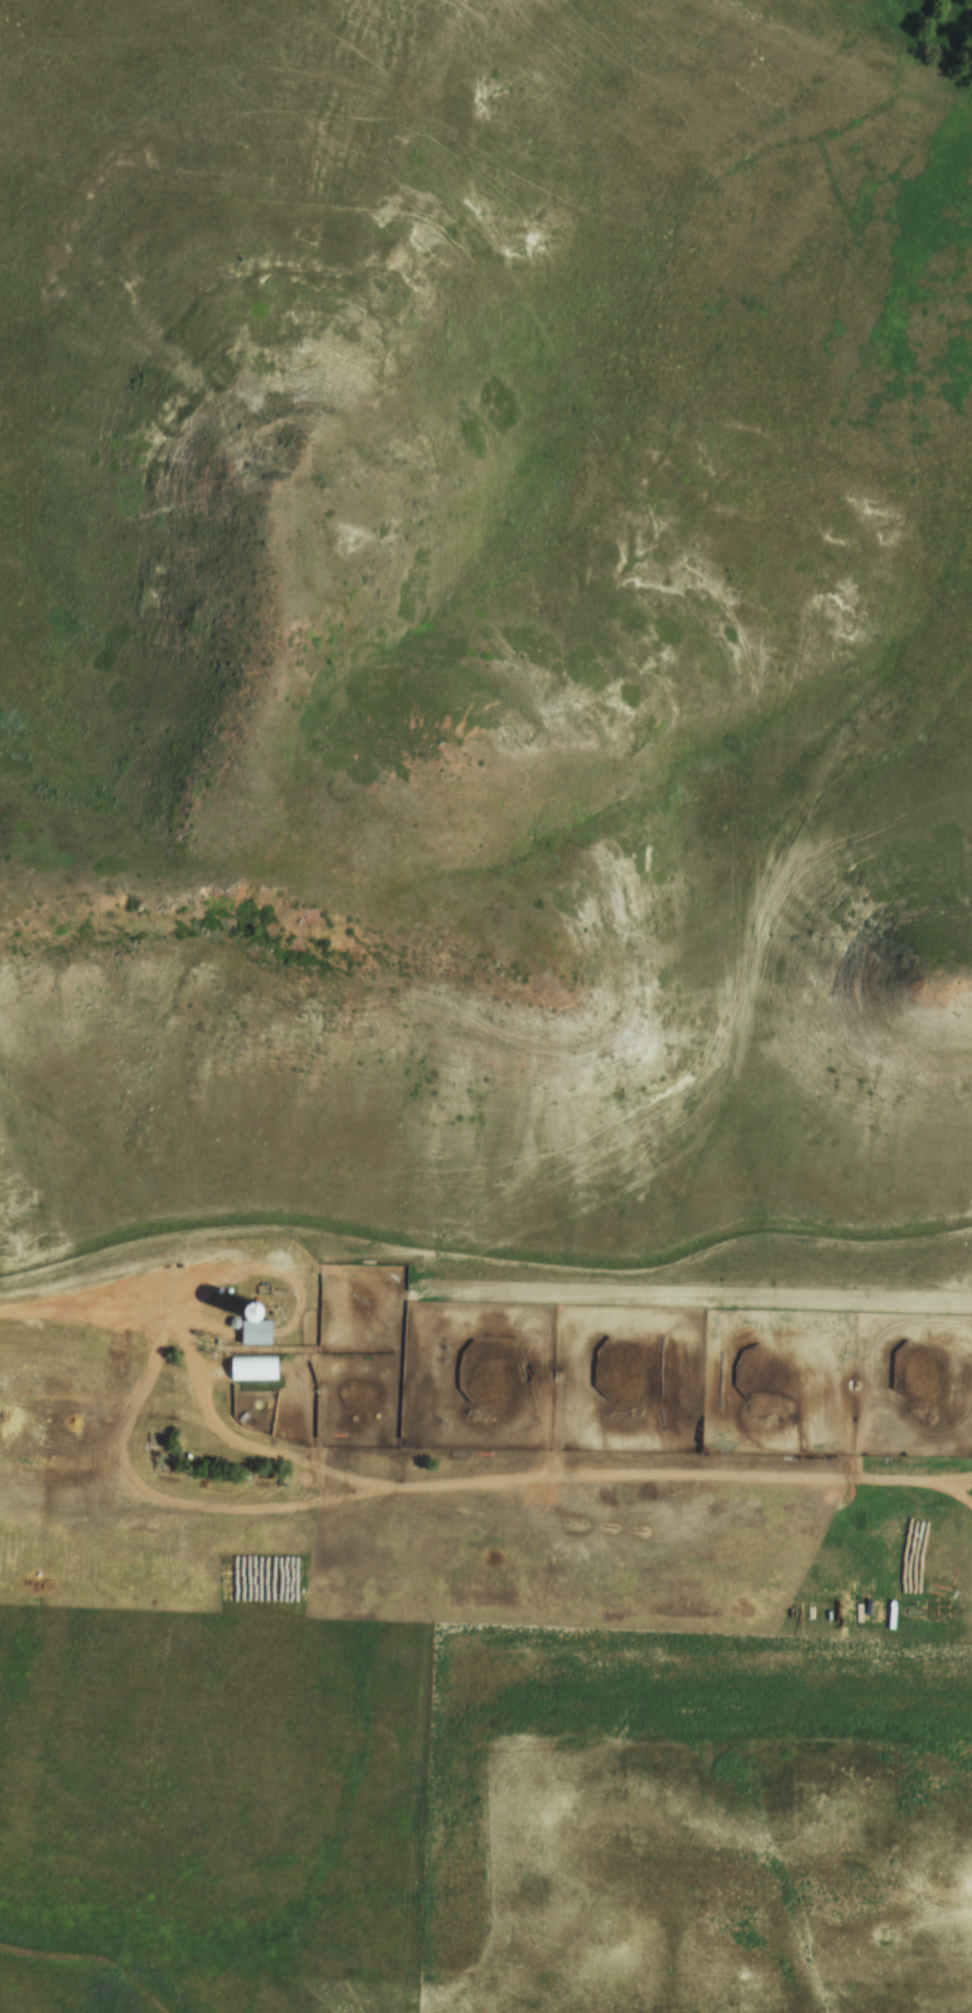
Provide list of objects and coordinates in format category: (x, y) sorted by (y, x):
road: (91, 1313)
building: (257, 1326)

